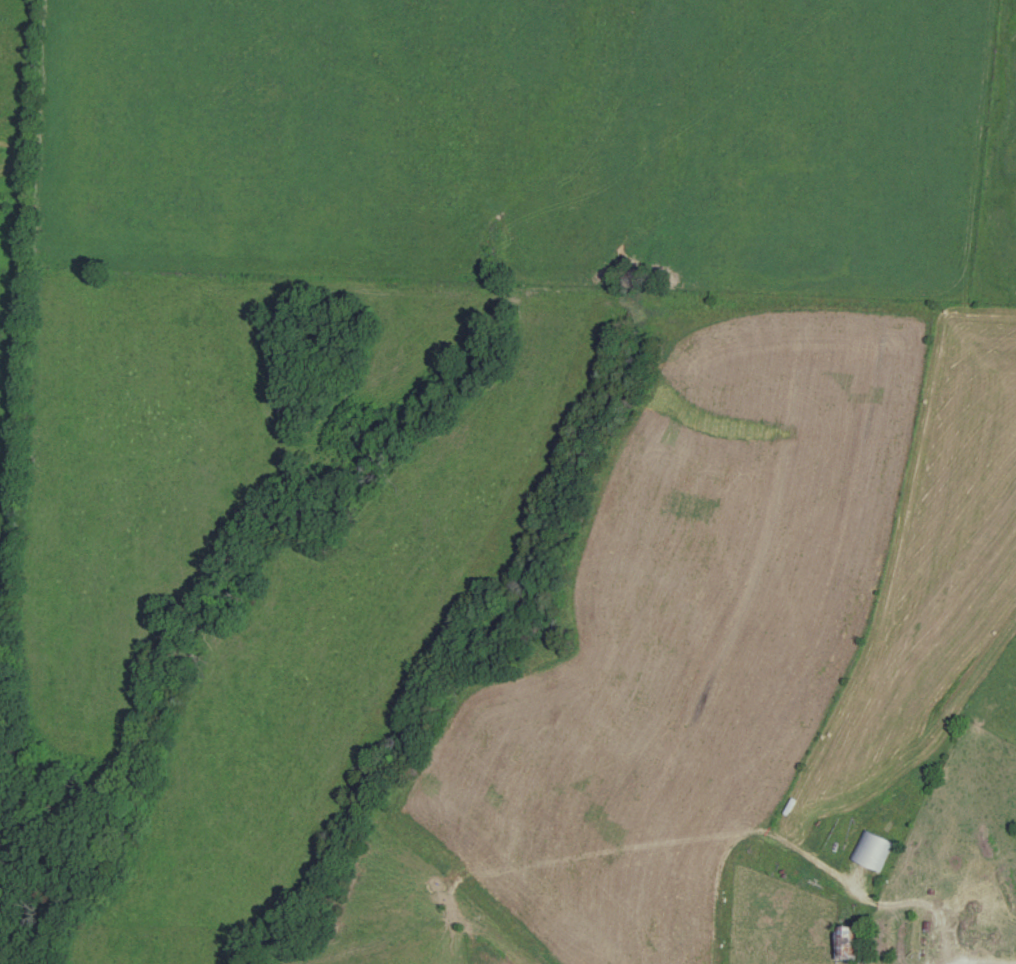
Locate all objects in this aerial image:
building: (872, 852)
building: (852, 944)
road: (988, 958)

